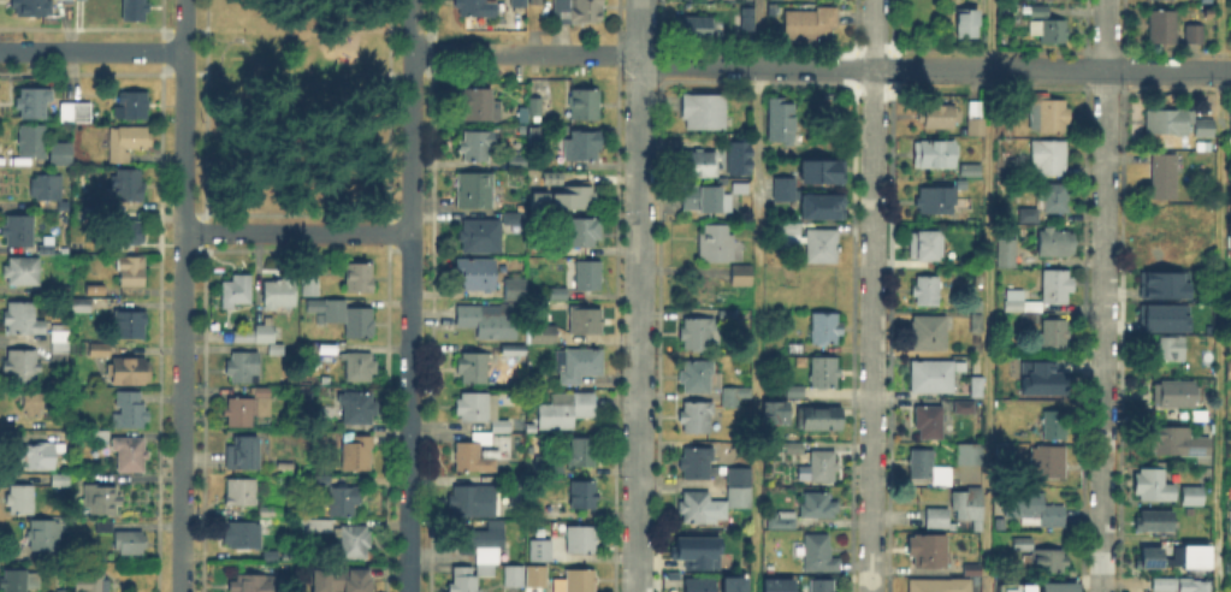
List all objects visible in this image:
building: (1162, 0)
building: (63, 1)
building: (535, 2)
building: (519, 4)
building: (31, 8)
building: (474, 8)
building: (136, 11)
building: (578, 12)
building: (1037, 12)
building: (969, 19)
building: (810, 24)
building: (697, 29)
building: (1164, 29)
building: (1049, 31)
road: (758, 32)
building: (1194, 35)
road: (93, 51)
road: (529, 52)
road: (874, 66)
road: (1162, 69)
road: (1225, 70)
building: (532, 103)
building: (32, 105)
park: (297, 106)
building: (479, 107)
building: (585, 107)
building: (131, 108)
building: (704, 112)
building: (76, 114)
building: (1049, 116)
building: (939, 117)
building: (781, 122)
building: (1168, 123)
building: (1229, 123)
building: (977, 128)
building: (1205, 129)
building: (32, 143)
building: (129, 144)
building: (477, 147)
building: (584, 147)
building: (61, 155)
building: (935, 155)
building: (1049, 156)
building: (735, 159)
building: (520, 164)
building: (702, 165)
building: (818, 170)
building: (972, 170)
building: (1165, 178)
building: (129, 187)
building: (780, 187)
building: (47, 189)
building: (475, 189)
building: (574, 199)
building: (1057, 200)
building: (706, 201)
building: (939, 202)
building: (106, 205)
building: (819, 205)
building: (64, 207)
building: (1030, 217)
building: (513, 218)
building: (19, 231)
road: (297, 231)
building: (134, 233)
building: (584, 233)
building: (786, 233)
building: (1230, 235)
building: (480, 237)
building: (1057, 243)
building: (927, 245)
building: (716, 247)
building: (823, 247)
building: (555, 251)
building: (1007, 255)
building: (1171, 255)
building: (99, 261)
building: (23, 272)
building: (132, 272)
building: (477, 274)
building: (590, 277)
building: (742, 277)
building: (360, 279)
building: (981, 279)
building: (1161, 284)
building: (312, 288)
building: (1057, 288)
building: (515, 290)
building: (237, 291)
building: (927, 291)
road: (182, 295)
building: (280, 295)
road: (410, 295)
building: (558, 295)
road: (987, 295)
road: (1219, 295)
road: (640, 296)
road: (872, 296)
road: (1103, 296)
building: (1012, 298)
building: (79, 306)
building: (1024, 309)
building: (728, 316)
building: (1161, 316)
building: (345, 318)
building: (22, 320)
building: (975, 320)
building: (489, 322)
building: (585, 324)
building: (130, 328)
road: (756, 328)
building: (825, 331)
building: (697, 333)
building: (1054, 333)
building: (256, 335)
building: (929, 335)
building: (543, 336)
building: (61, 344)
building: (96, 348)
building: (329, 348)
building: (794, 348)
building: (277, 349)
building: (307, 349)
building: (1172, 350)
building: (579, 366)
building: (243, 368)
building: (360, 368)
building: (22, 369)
building: (472, 369)
building: (1230, 372)
building: (130, 373)
building: (825, 374)
building: (935, 375)
building: (1038, 377)
building: (700, 379)
building: (977, 387)
building: (794, 392)
building: (1176, 395)
building: (735, 397)
building: (35, 404)
building: (965, 408)
building: (247, 409)
building: (355, 409)
building: (777, 409)
building: (566, 410)
building: (483, 412)
building: (131, 413)
building: (696, 418)
building: (819, 420)
building: (930, 424)
building: (1055, 426)
building: (101, 437)
building: (1166, 438)
building: (795, 450)
building: (357, 452)
building: (582, 452)
building: (42, 454)
building: (1008, 454)
building: (131, 455)
building: (244, 455)
building: (474, 455)
building: (970, 455)
building: (548, 461)
building: (1049, 462)
building: (698, 464)
building: (823, 467)
building: (934, 470)
building: (740, 476)
building: (1155, 487)
building: (241, 493)
building: (584, 496)
building: (740, 497)
building: (1194, 497)
building: (20, 501)
building: (101, 501)
building: (344, 501)
building: (467, 502)
building: (970, 507)
building: (696, 509)
building: (815, 509)
building: (1035, 510)
building: (271, 513)
building: (939, 520)
building: (783, 522)
building: (1155, 522)
building: (1230, 522)
building: (103, 526)
building: (316, 526)
building: (243, 535)
building: (43, 537)
building: (581, 540)
building: (354, 541)
building: (1024, 544)
building: (131, 545)
building: (1184, 546)
building: (484, 549)
building: (698, 550)
building: (541, 551)
building: (929, 553)
building: (819, 555)
building: (1154, 560)
building: (1047, 561)
building: (973, 572)
building: (514, 576)
building: (537, 578)
building: (458, 579)
building: (341, 581)
building: (581, 581)
building: (14, 582)
building: (89, 582)
building: (775, 584)
building: (256, 585)
building: (711, 586)
building: (941, 586)
building: (1164, 586)
building: (1194, 586)
building: (822, 587)
building: (1012, 587)
building: (1060, 587)

